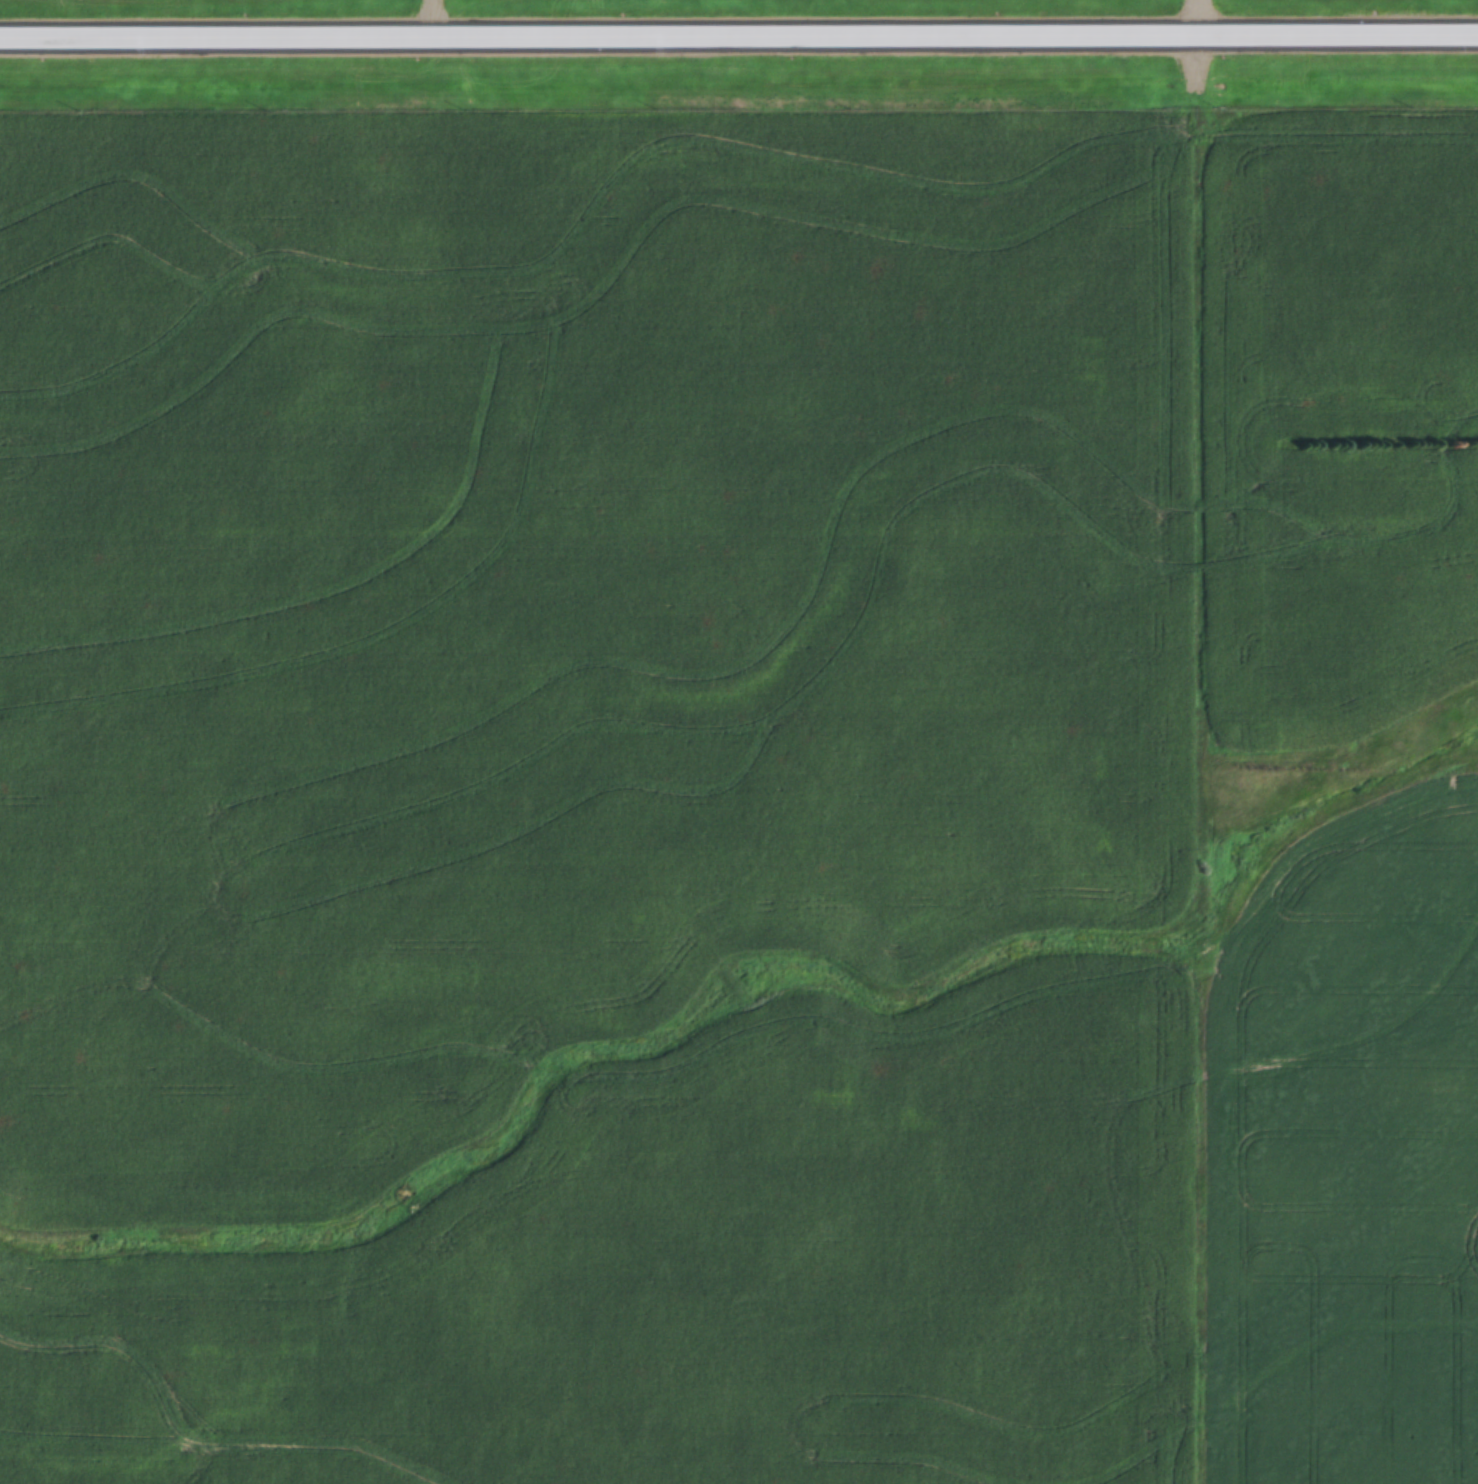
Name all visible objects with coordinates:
road: (738, 32)

